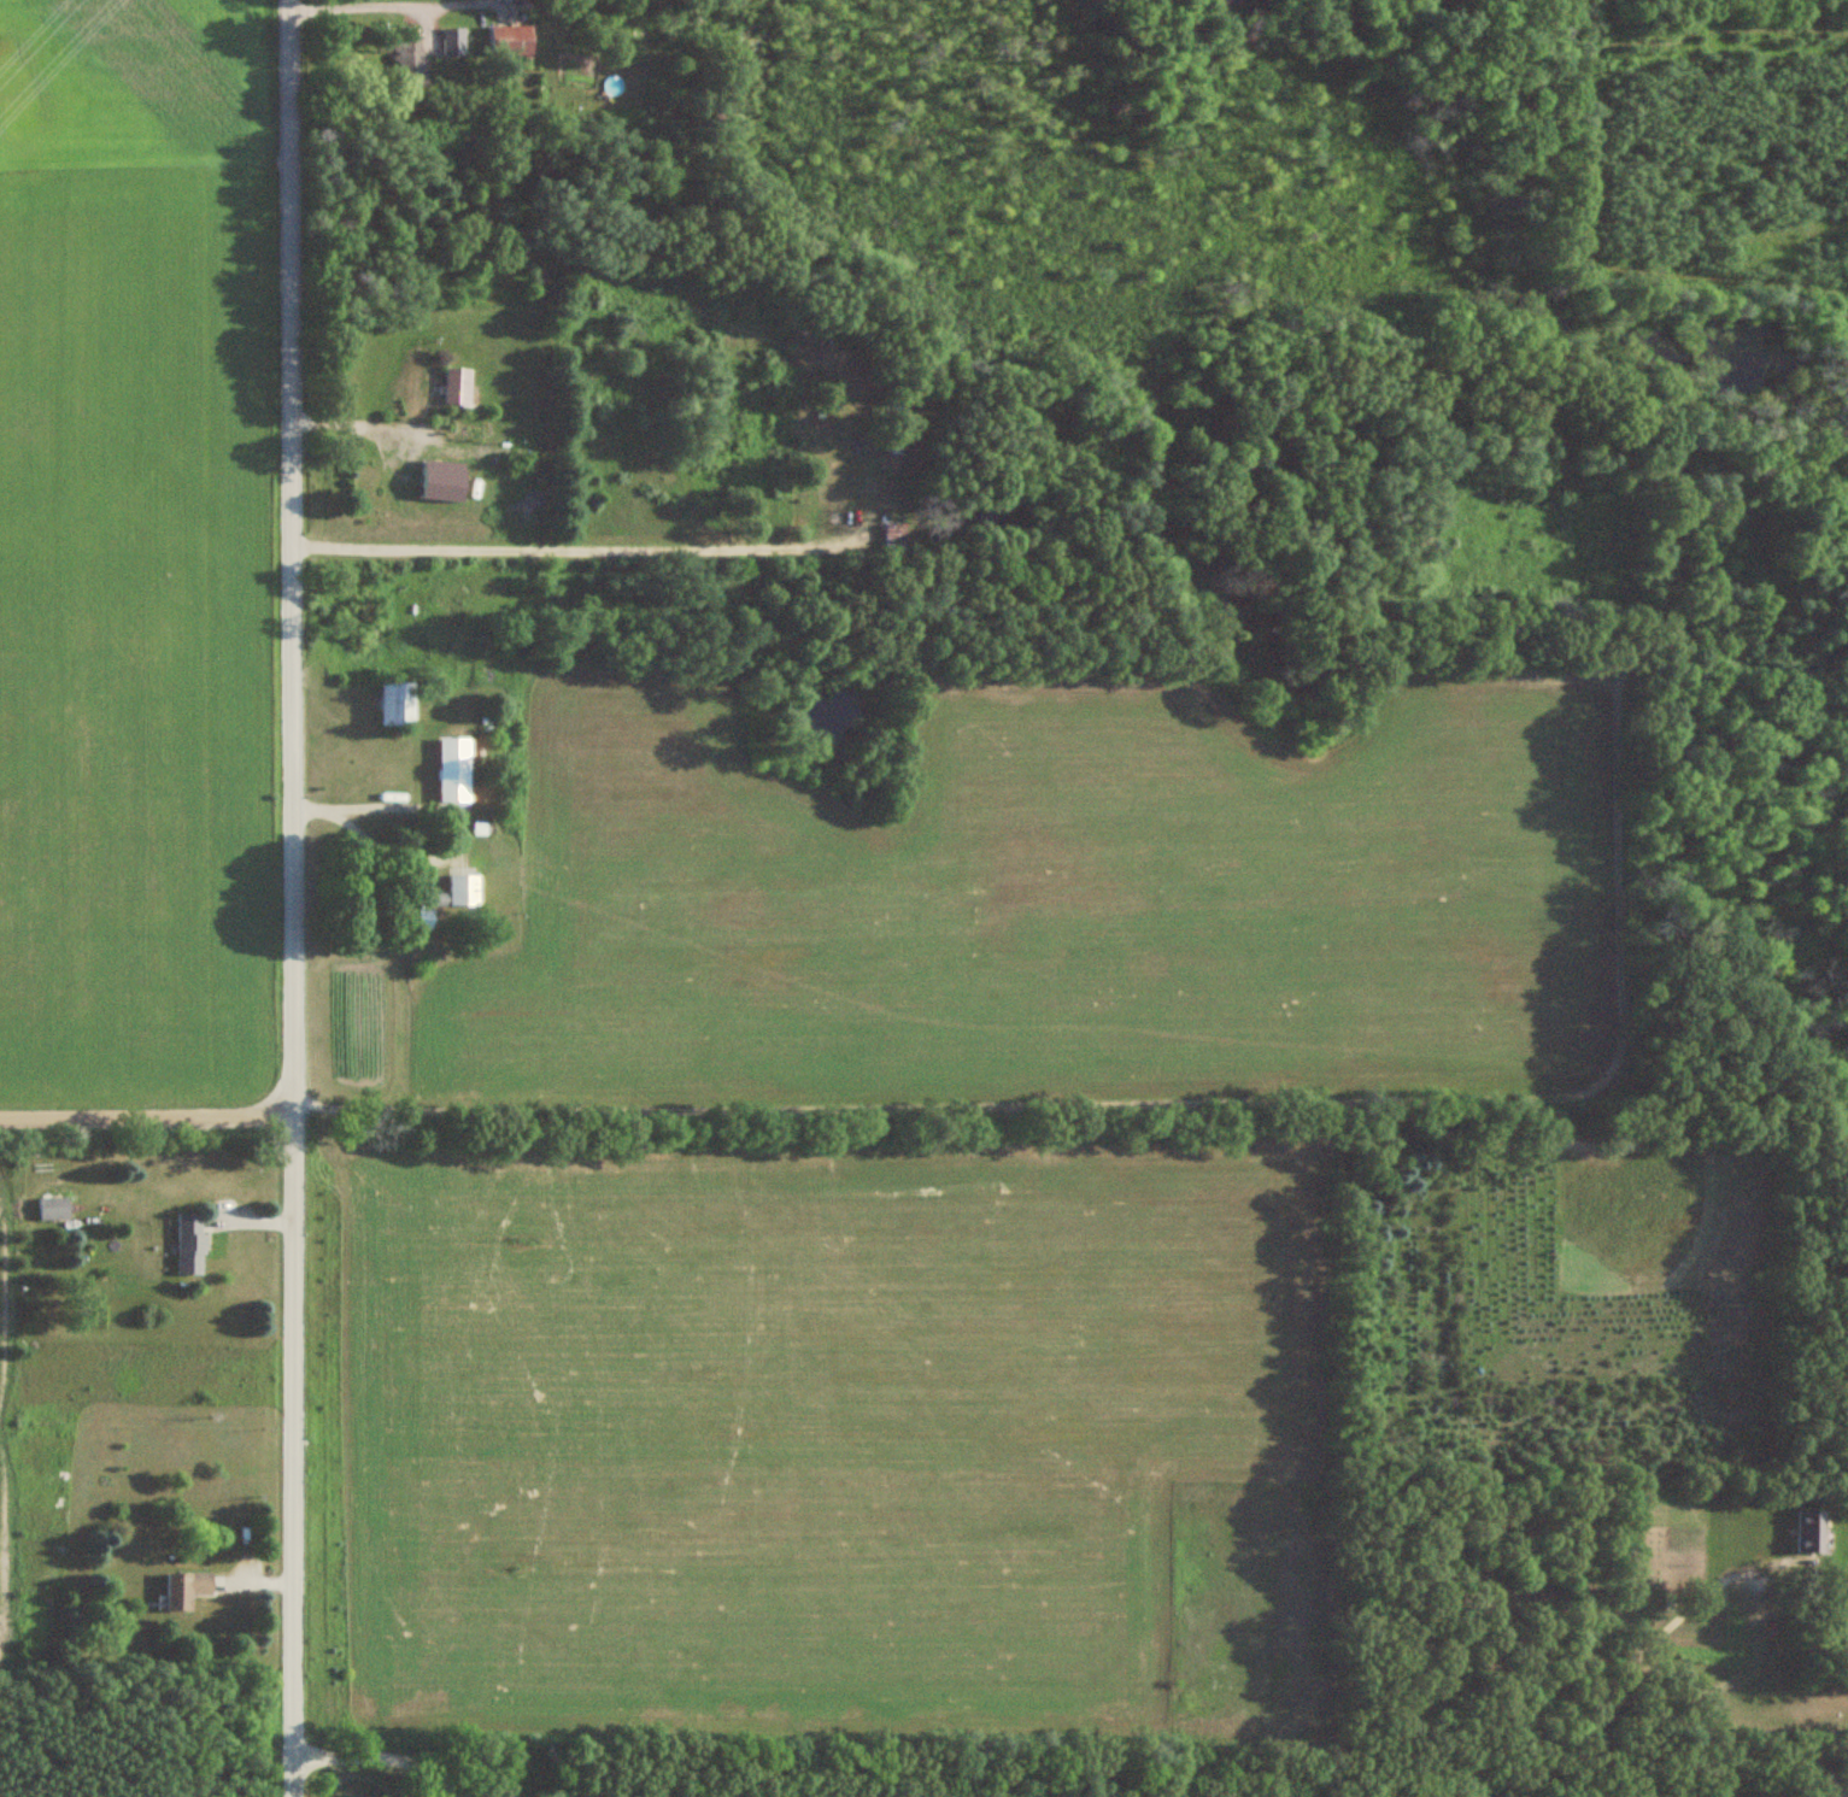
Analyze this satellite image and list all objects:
building: (453, 41)
building: (510, 41)
building: (411, 63)
building: (457, 386)
road: (358, 410)
building: (892, 425)
building: (894, 544)
road: (582, 547)
building: (395, 703)
building: (453, 769)
road: (293, 898)
building: (441, 899)
road: (147, 1120)
building: (53, 1209)
building: (190, 1245)
building: (1811, 1532)
building: (187, 1588)
road: (1641, 1648)
road: (385, 1755)

